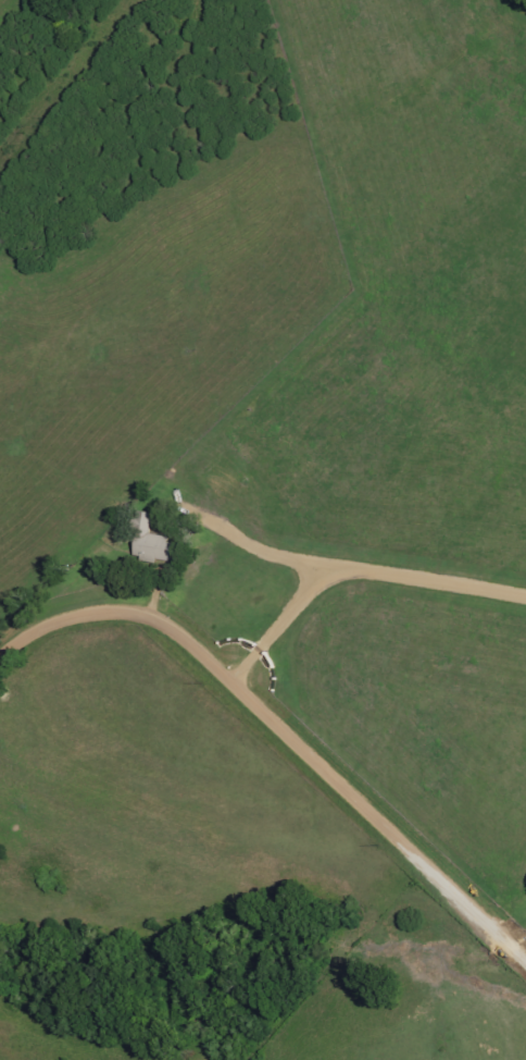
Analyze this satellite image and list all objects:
building: (154, 541)
road: (283, 726)

